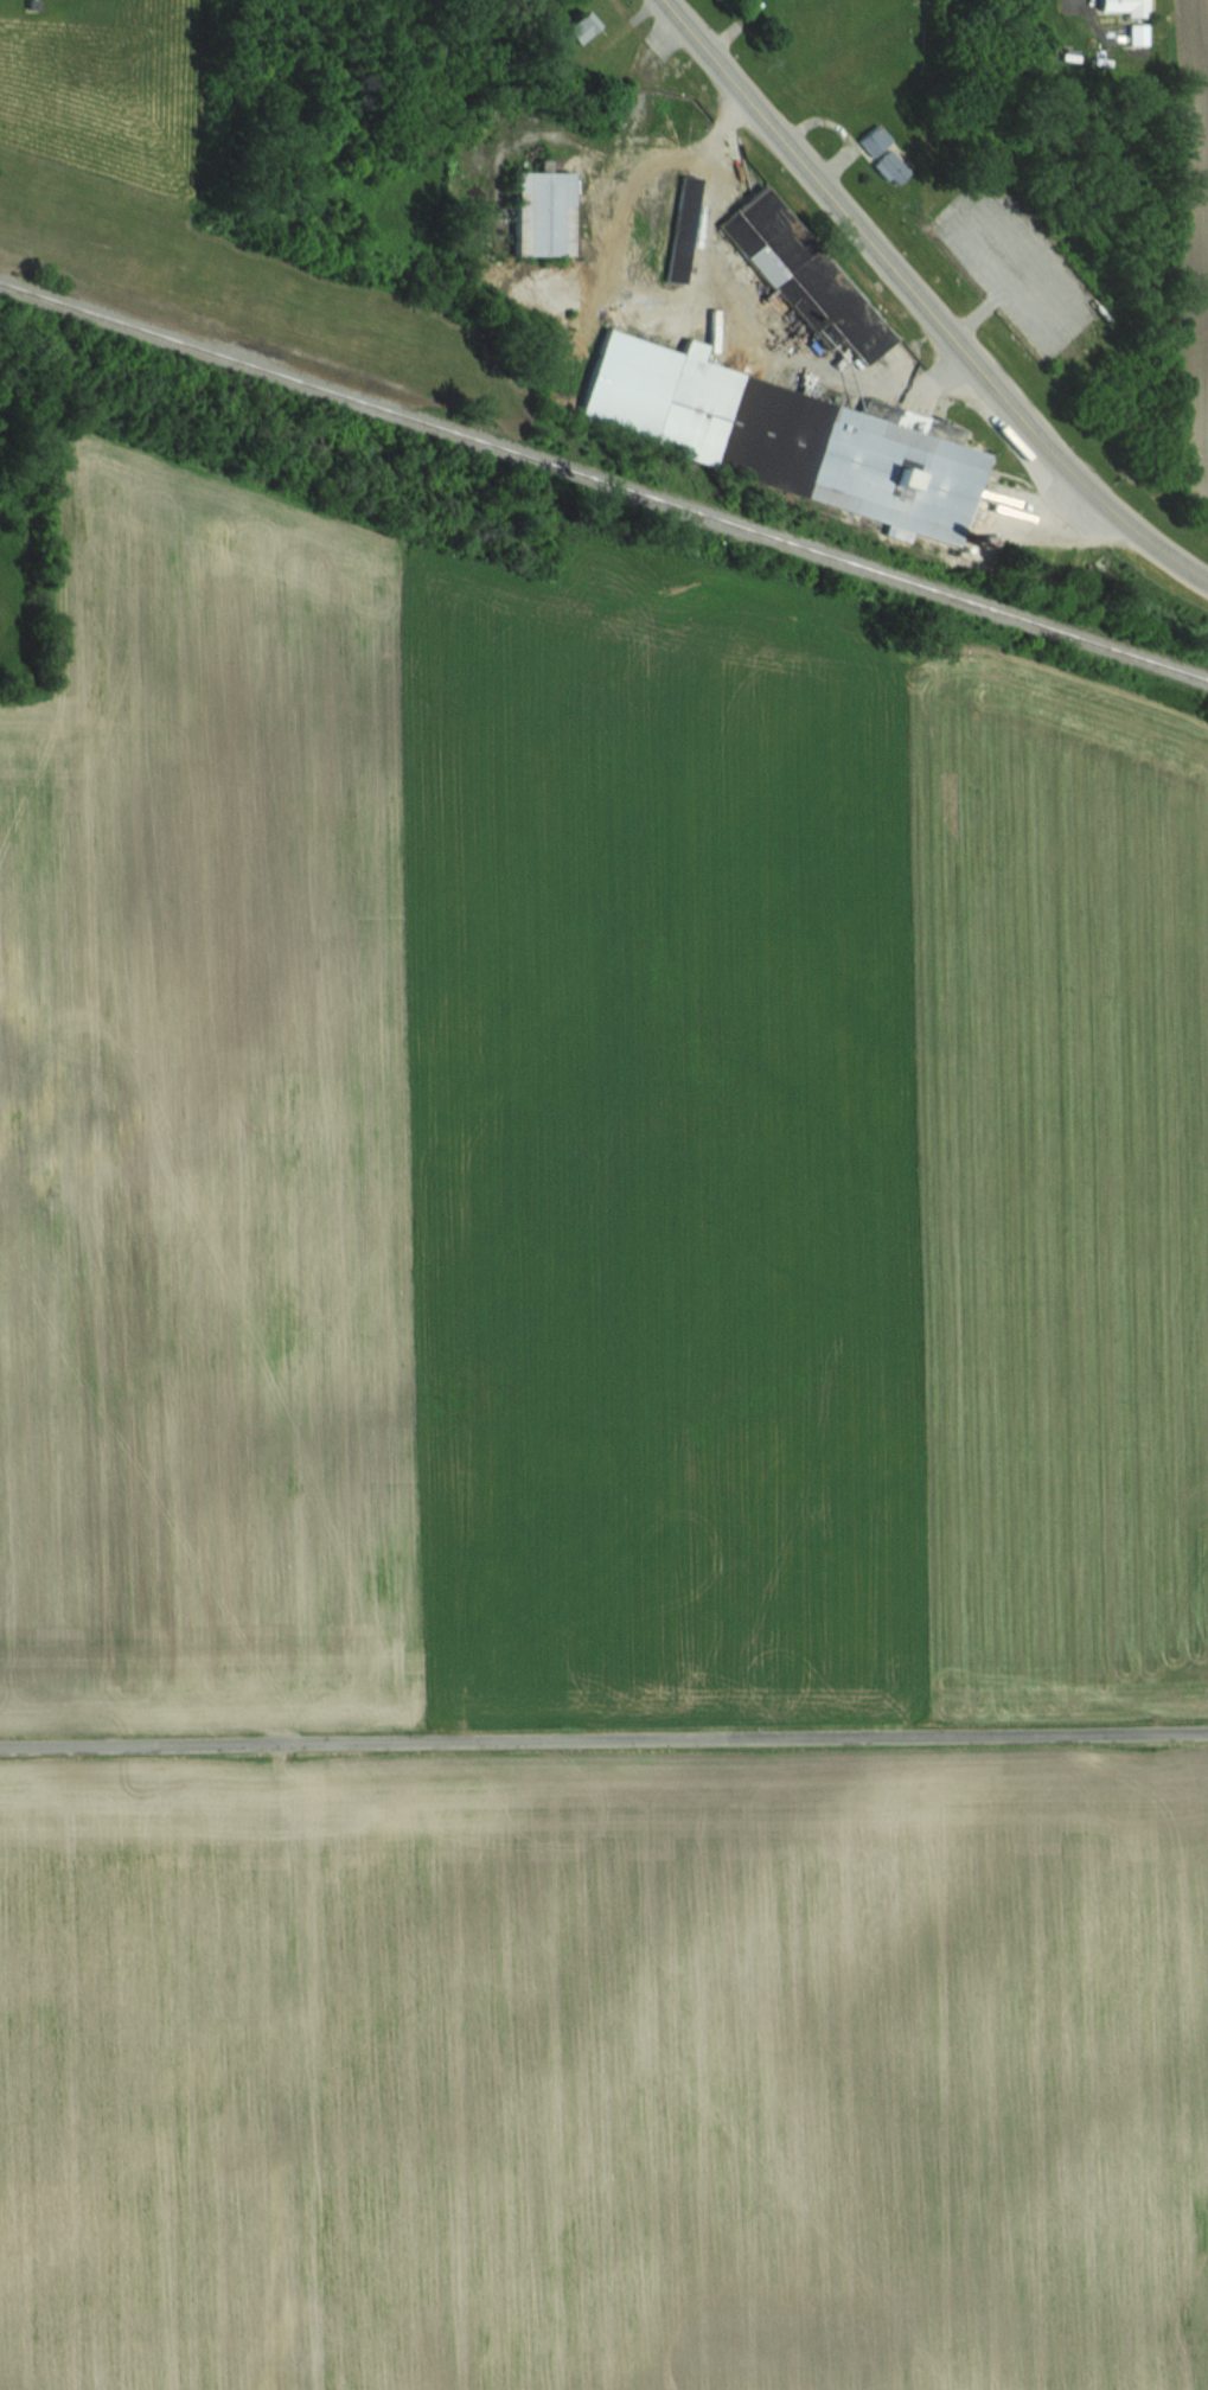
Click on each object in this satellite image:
building: (1135, 8)
building: (575, 27)
building: (486, 121)
building: (874, 140)
building: (889, 167)
building: (541, 212)
road: (854, 222)
building: (811, 290)
road: (746, 318)
building: (785, 439)
railway: (603, 483)
road: (1123, 516)
road: (603, 1740)

